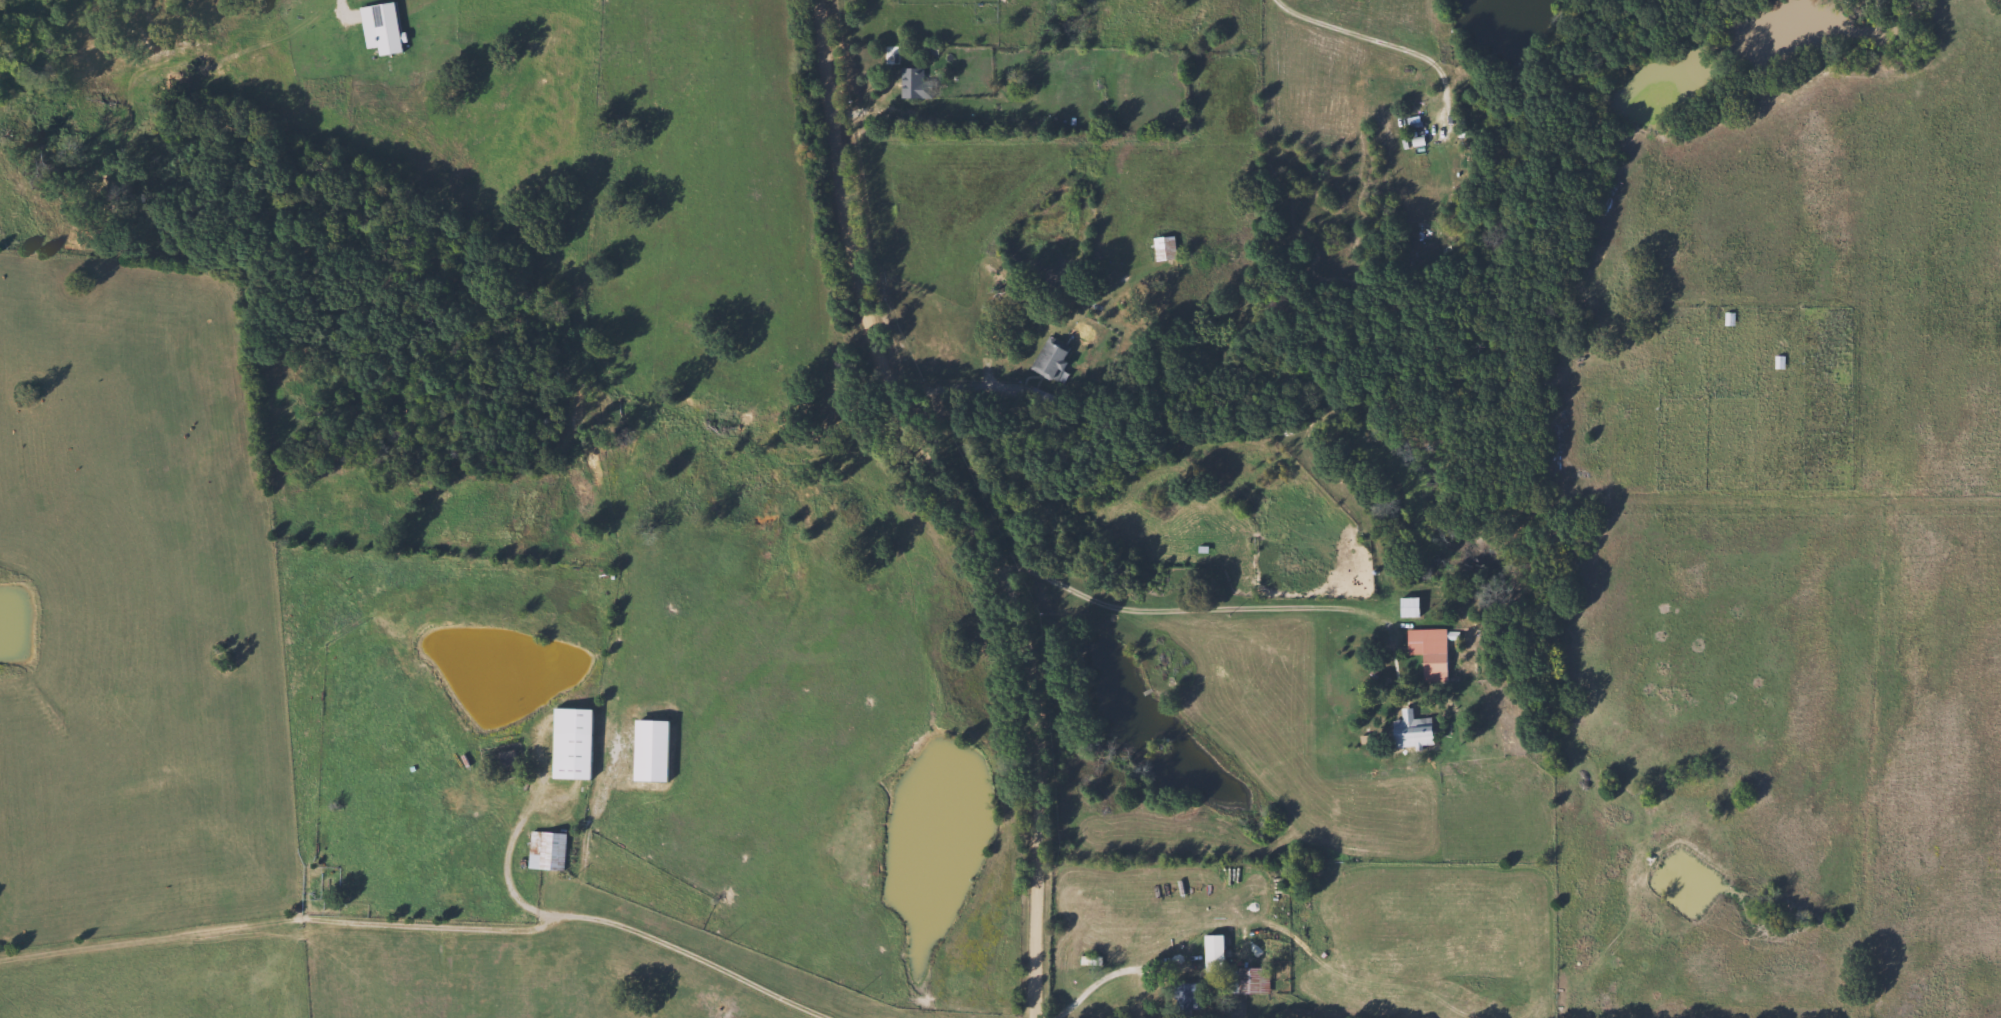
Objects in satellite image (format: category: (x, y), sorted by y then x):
road: (1380, 41)
building: (909, 82)
building: (1159, 248)
building: (1044, 358)
road: (956, 389)
road: (959, 504)
road: (715, 532)
building: (1404, 607)
road: (1186, 610)
building: (1426, 652)
building: (1408, 730)
building: (581, 743)
building: (511, 758)
building: (551, 850)
road: (508, 877)
road: (422, 927)
building: (1209, 952)
building: (1089, 959)
road: (1101, 978)
building: (1246, 979)

